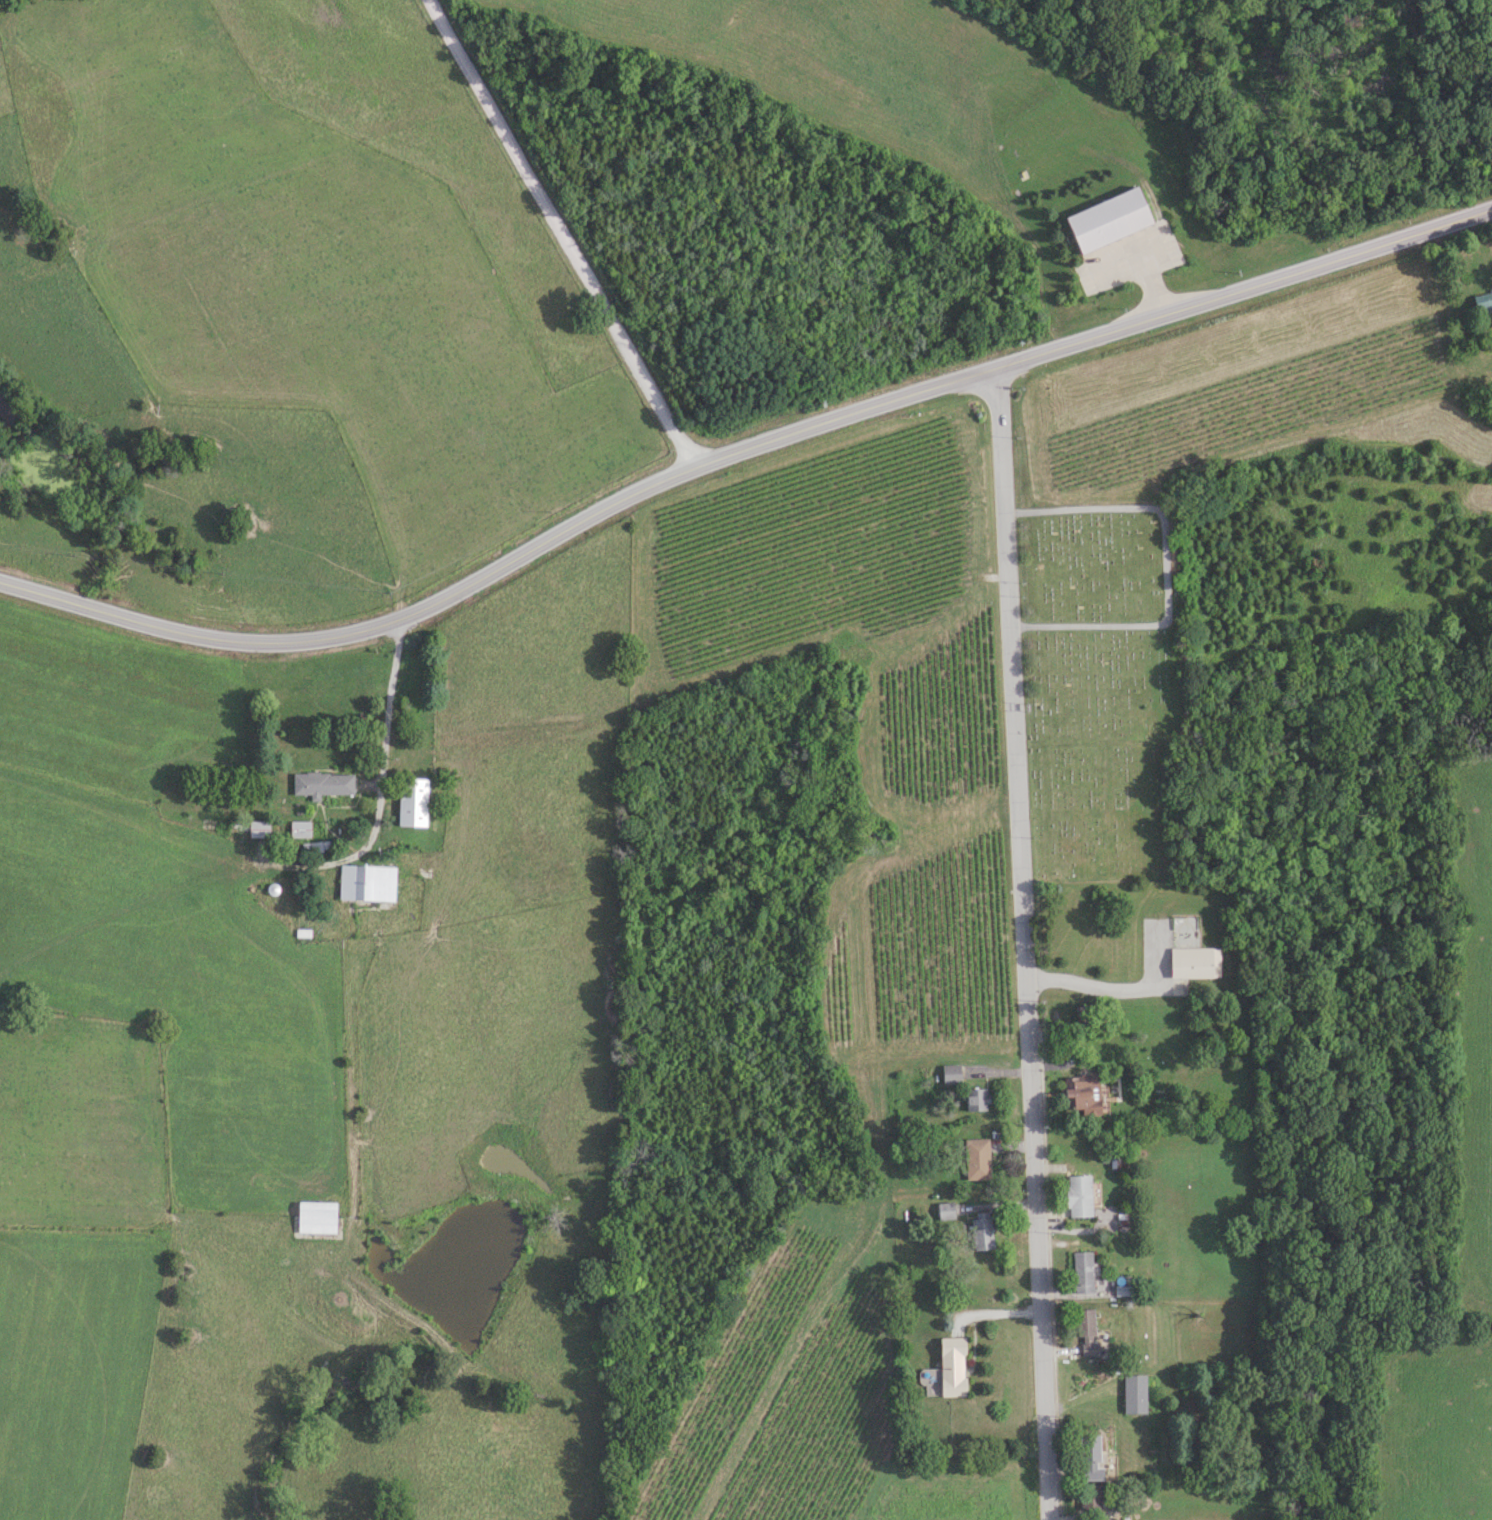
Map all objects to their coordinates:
building: (1109, 217)
road: (1448, 223)
road: (560, 233)
building: (1483, 303)
road: (1169, 312)
road: (478, 579)
park: (1100, 683)
road: (1012, 722)
building: (321, 783)
building: (410, 802)
road: (373, 806)
building: (257, 829)
building: (298, 829)
building: (316, 846)
building: (365, 883)
building: (1193, 963)
road: (1123, 988)
building: (950, 1074)
building: (1081, 1096)
building: (975, 1099)
building: (976, 1159)
building: (1077, 1196)
building: (945, 1211)
building: (314, 1218)
building: (981, 1231)
building: (1081, 1274)
road: (1039, 1298)
building: (1085, 1331)
building: (951, 1367)
building: (1133, 1394)
building: (1089, 1458)
building: (1094, 1497)

